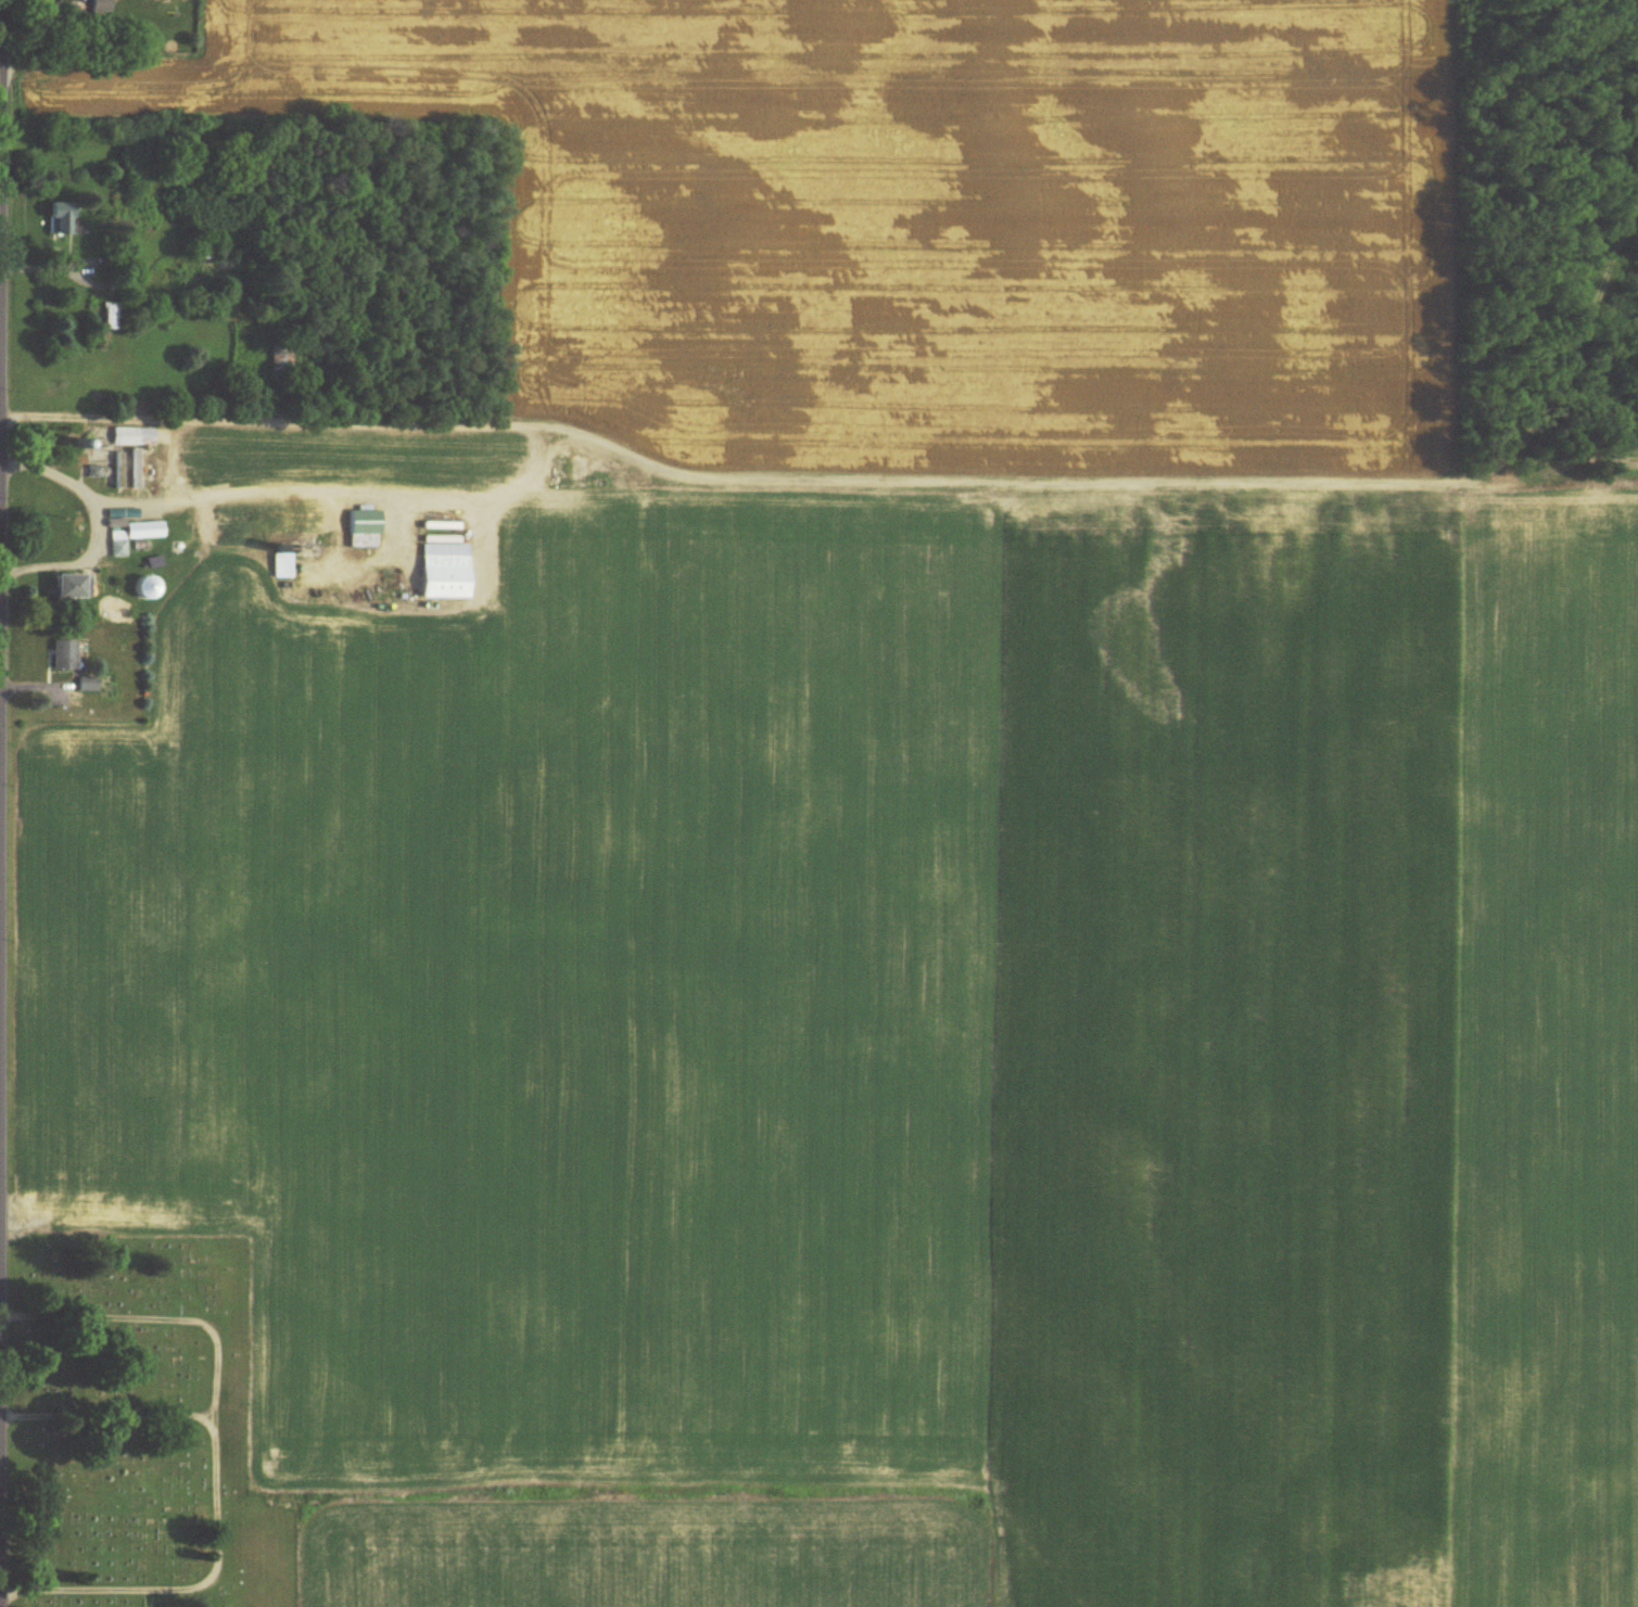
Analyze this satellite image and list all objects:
building: (101, 7)
building: (63, 218)
building: (186, 277)
road: (0, 286)
building: (98, 315)
building: (117, 316)
road: (0, 361)
building: (282, 364)
building: (135, 436)
road: (0, 515)
road: (100, 525)
building: (365, 530)
building: (135, 535)
building: (444, 563)
building: (282, 566)
building: (71, 587)
building: (148, 588)
building: (66, 656)
road: (1, 803)
park: (142, 1427)

